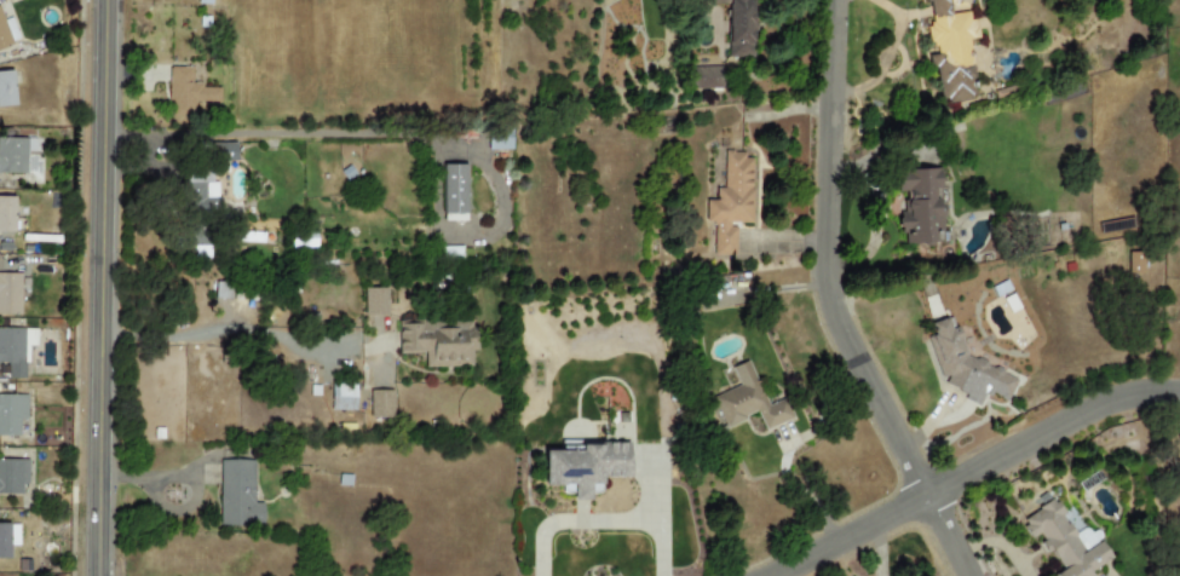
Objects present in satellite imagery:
building: (737, 27)
building: (2, 36)
building: (950, 51)
building: (706, 77)
building: (6, 88)
building: (186, 92)
road: (413, 134)
building: (497, 138)
building: (221, 151)
building: (12, 155)
building: (198, 191)
building: (453, 192)
building: (731, 202)
building: (919, 203)
building: (6, 213)
road: (829, 249)
building: (1133, 260)
road: (104, 287)
building: (10, 293)
building: (374, 301)
road: (230, 329)
building: (437, 341)
building: (15, 349)
building: (966, 367)
building: (341, 399)
building: (748, 402)
building: (379, 403)
building: (11, 413)
road: (954, 463)
building: (585, 465)
building: (237, 494)
road: (601, 519)
road: (950, 528)
building: (1086, 537)
building: (4, 540)
building: (1064, 543)
road: (657, 547)

